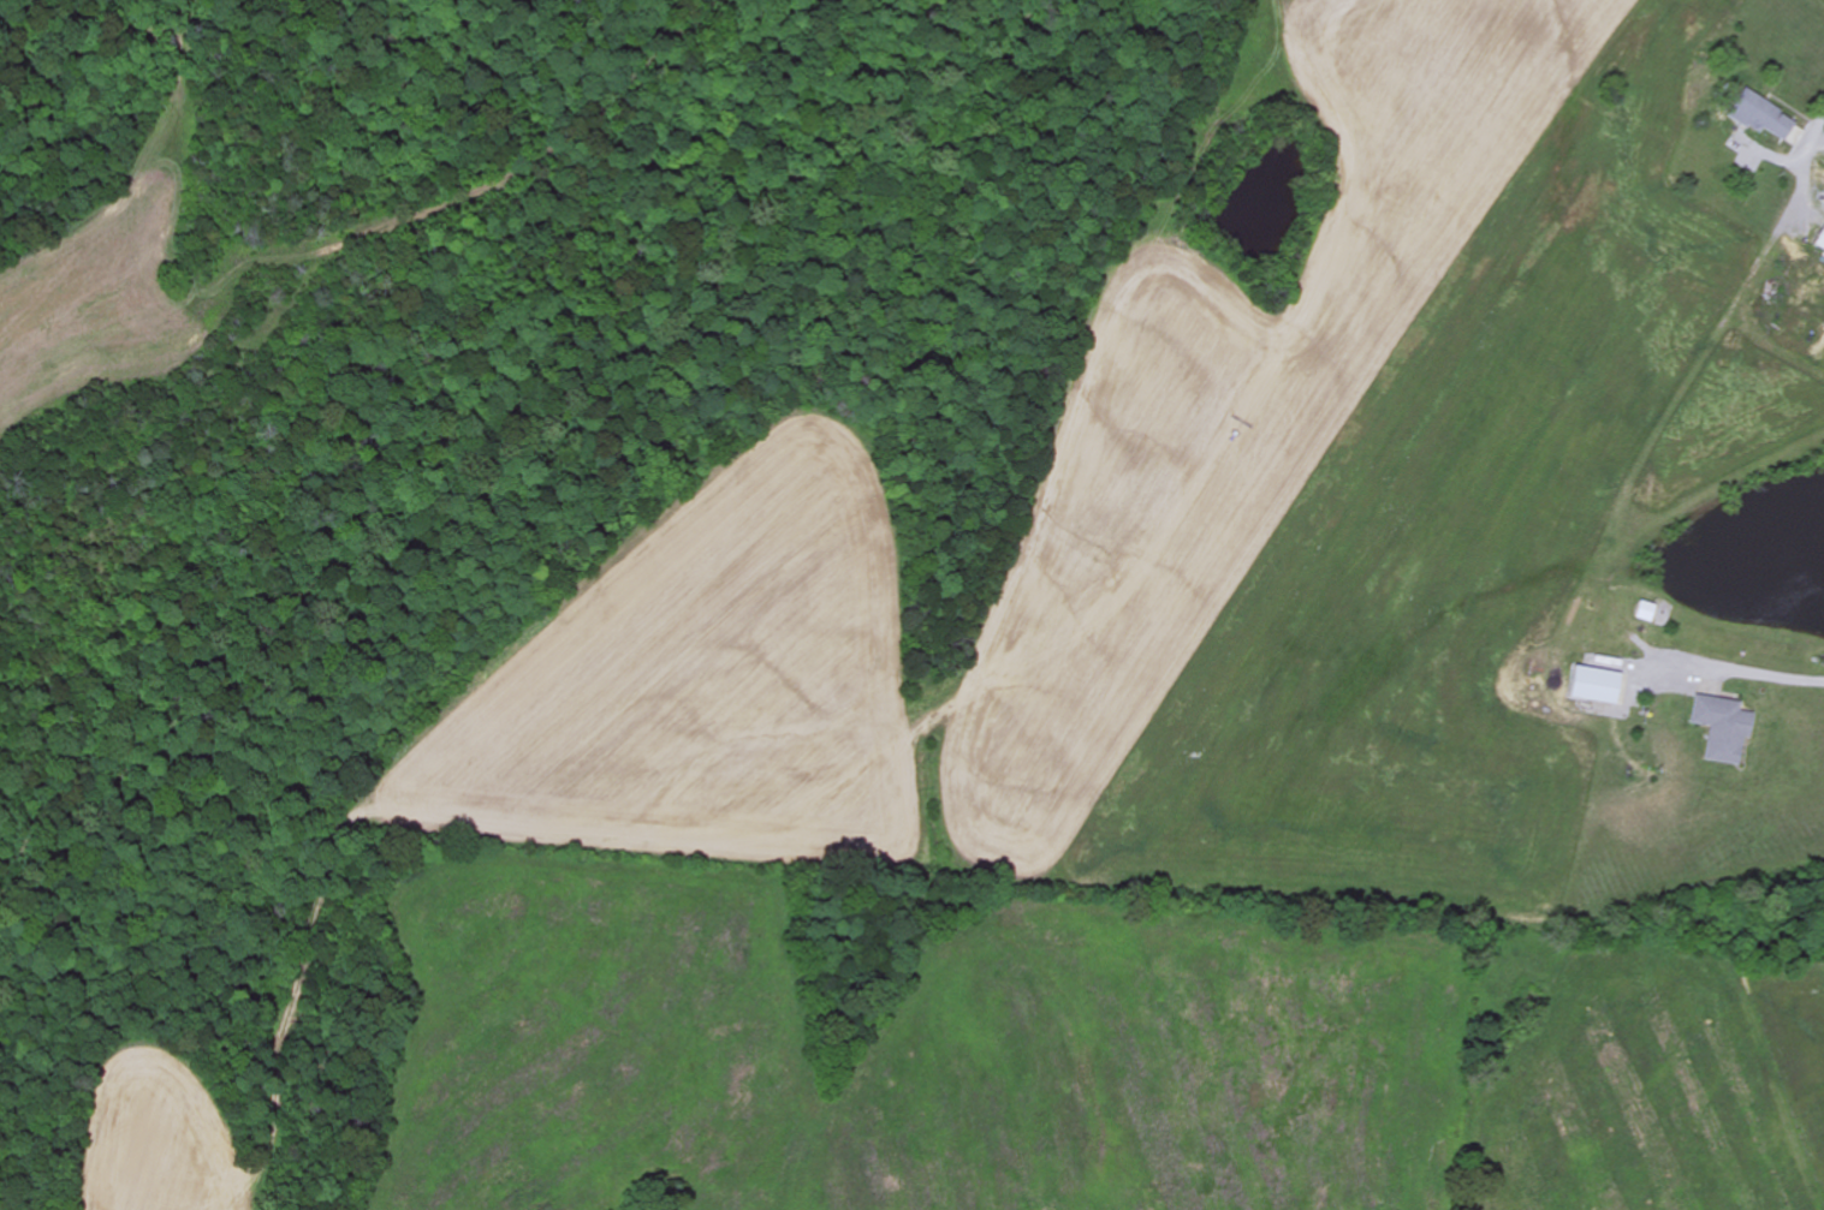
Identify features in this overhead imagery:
building: (1759, 117)
building: (1819, 240)
building: (1644, 613)
building: (1592, 686)
building: (1721, 731)

